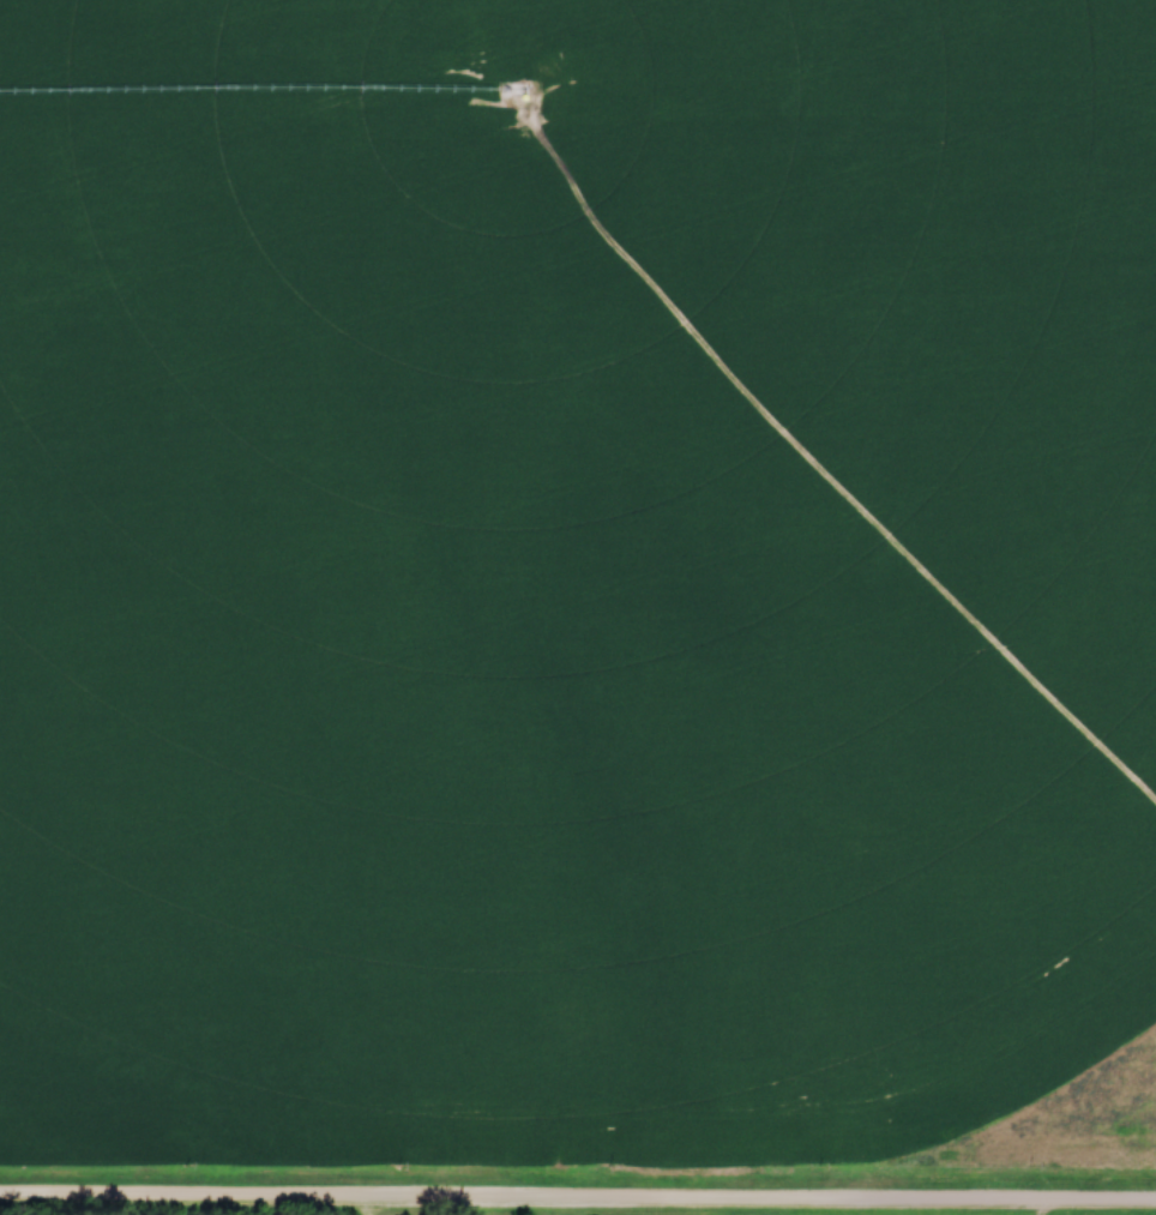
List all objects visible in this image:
road: (578, 1198)

